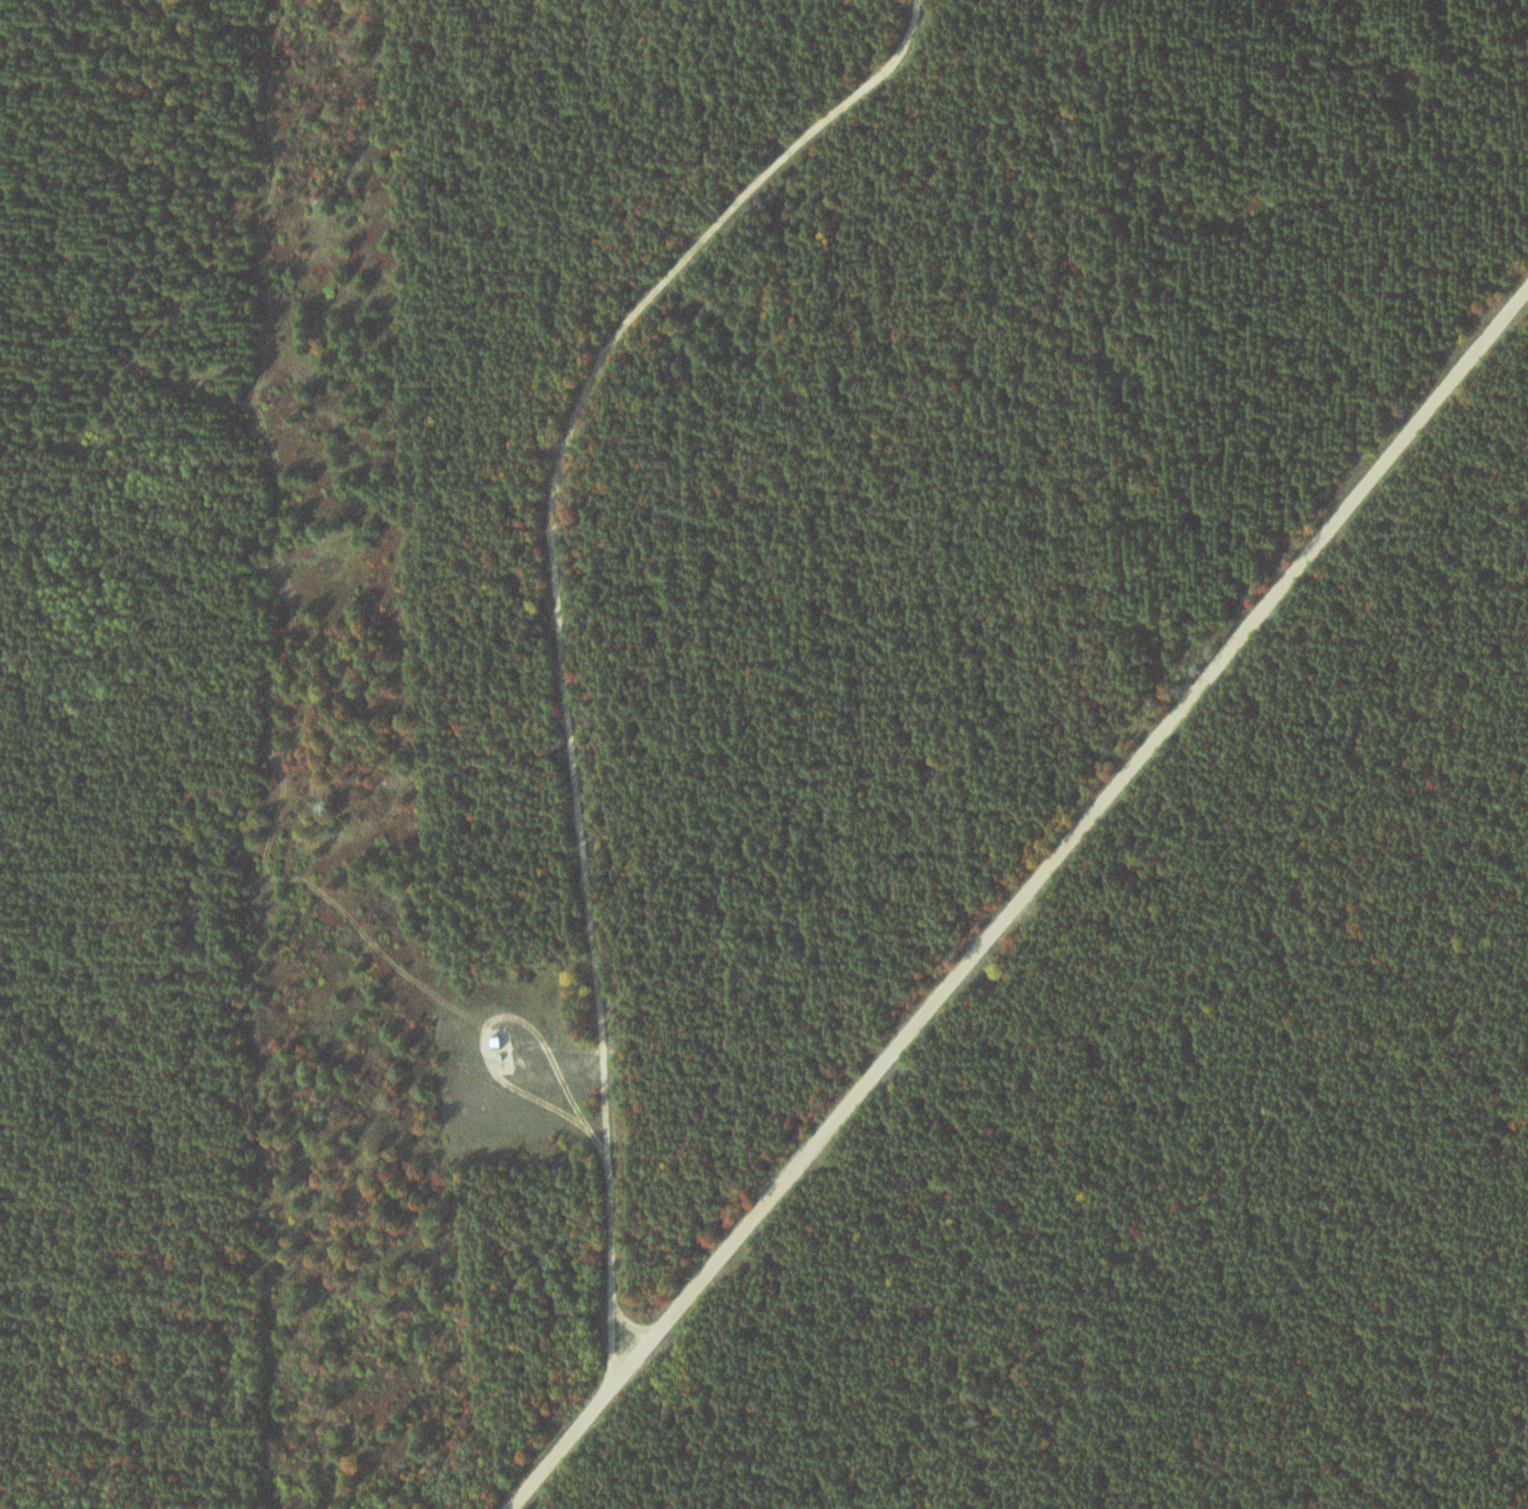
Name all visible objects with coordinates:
road: (565, 625)
road: (1020, 903)
petroleum well: (499, 1041)

